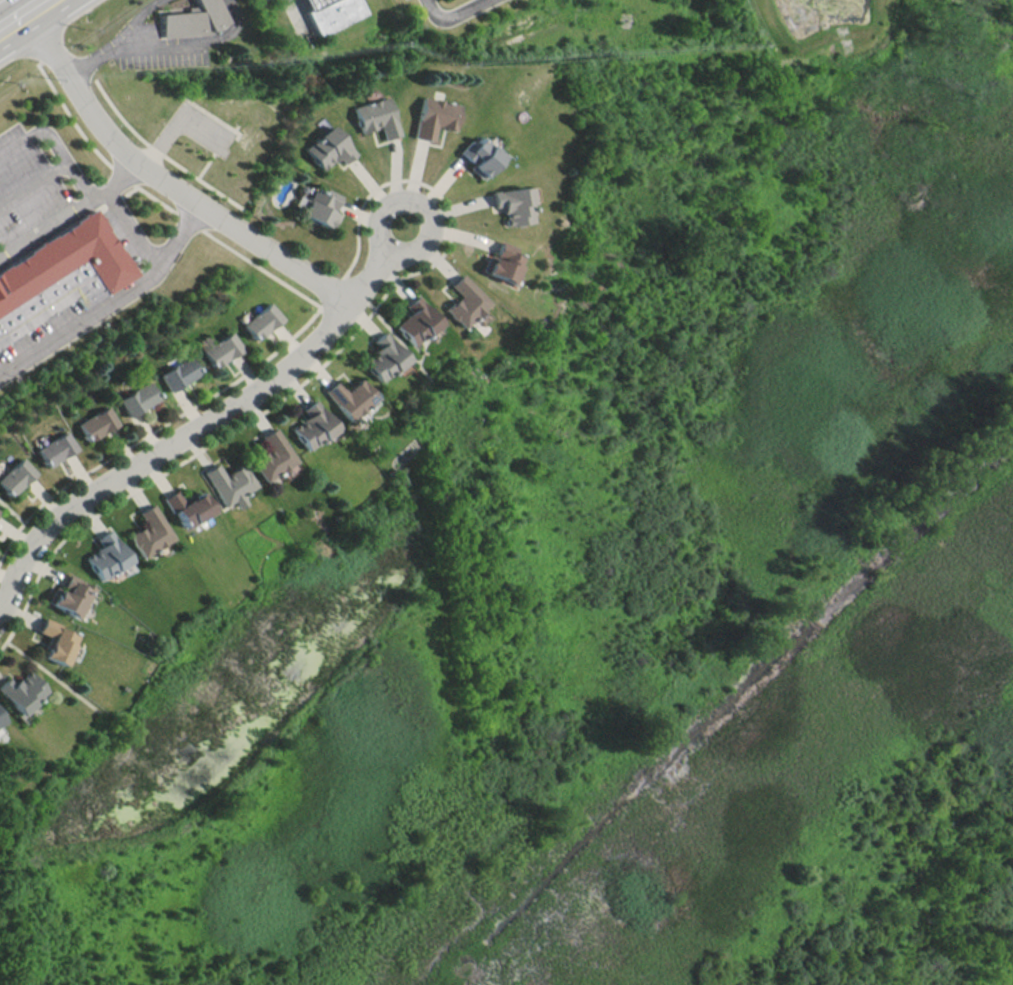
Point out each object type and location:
parking lot: (410, 0)
building: (319, 2)
road: (25, 4)
road: (20, 13)
building: (339, 14)
road: (454, 16)
road: (151, 22)
building: (203, 23)
road: (211, 49)
parking lot: (158, 51)
road: (127, 55)
road: (94, 68)
building: (377, 116)
building: (435, 116)
road: (59, 141)
building: (329, 148)
building: (480, 155)
road: (123, 176)
road: (166, 178)
road: (36, 184)
parking lot: (29, 193)
building: (513, 204)
building: (322, 207)
road: (53, 225)
road: (136, 230)
parking lot: (125, 231)
road: (182, 234)
building: (73, 260)
building: (502, 262)
building: (464, 301)
building: (261, 320)
building: (416, 321)
road: (84, 329)
parking lot: (40, 333)
building: (222, 349)
building: (384, 357)
building: (179, 373)
building: (351, 397)
building: (138, 398)
building: (97, 423)
road: (207, 425)
building: (313, 425)
building: (56, 448)
building: (273, 455)
building: (16, 475)
building: (230, 483)
building: (189, 507)
building: (150, 531)
building: (107, 555)
building: (71, 595)
building: (56, 641)
building: (21, 691)
building: (0, 718)

